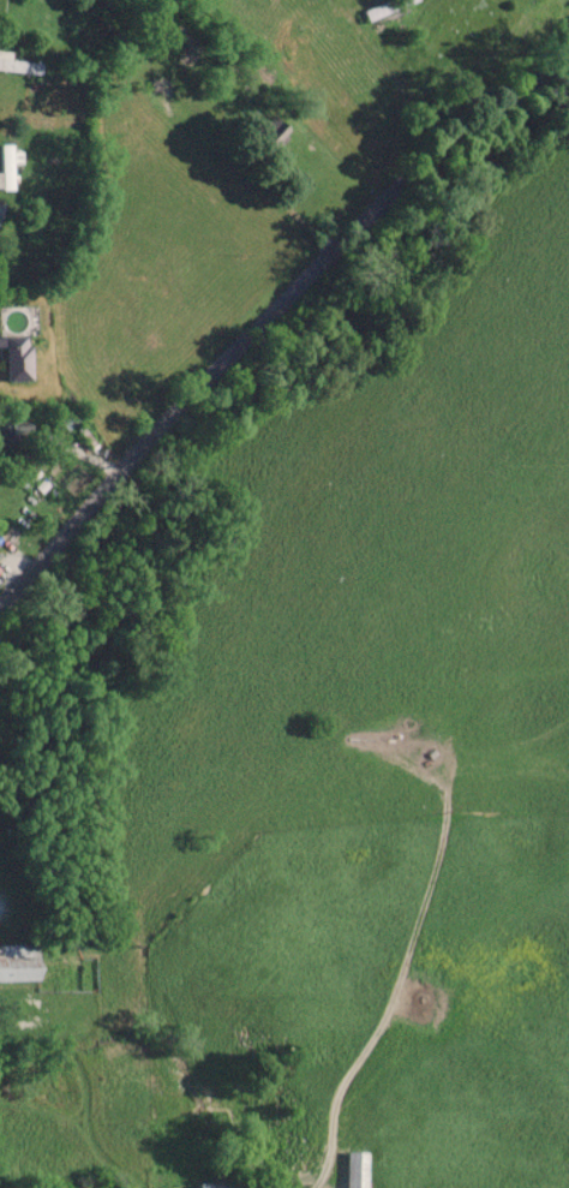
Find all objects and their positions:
building: (378, 7)
building: (256, 131)
building: (6, 168)
road: (280, 310)
building: (11, 358)
building: (13, 431)
building: (12, 527)
park: (5, 891)
building: (14, 962)
building: (355, 1170)
building: (222, 1187)

